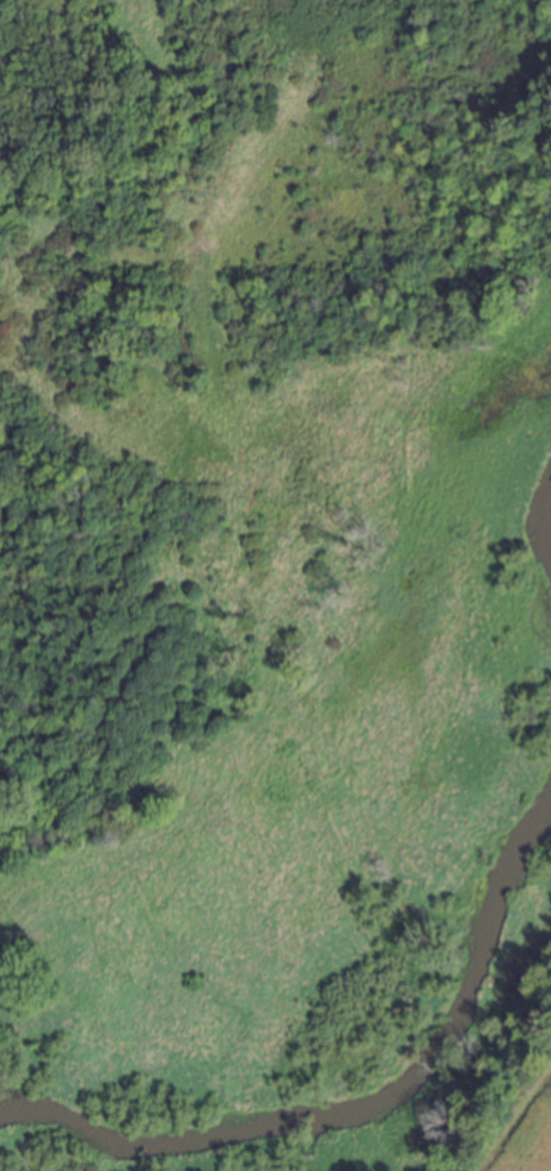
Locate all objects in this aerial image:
river: (547, 591)
river: (347, 1103)

